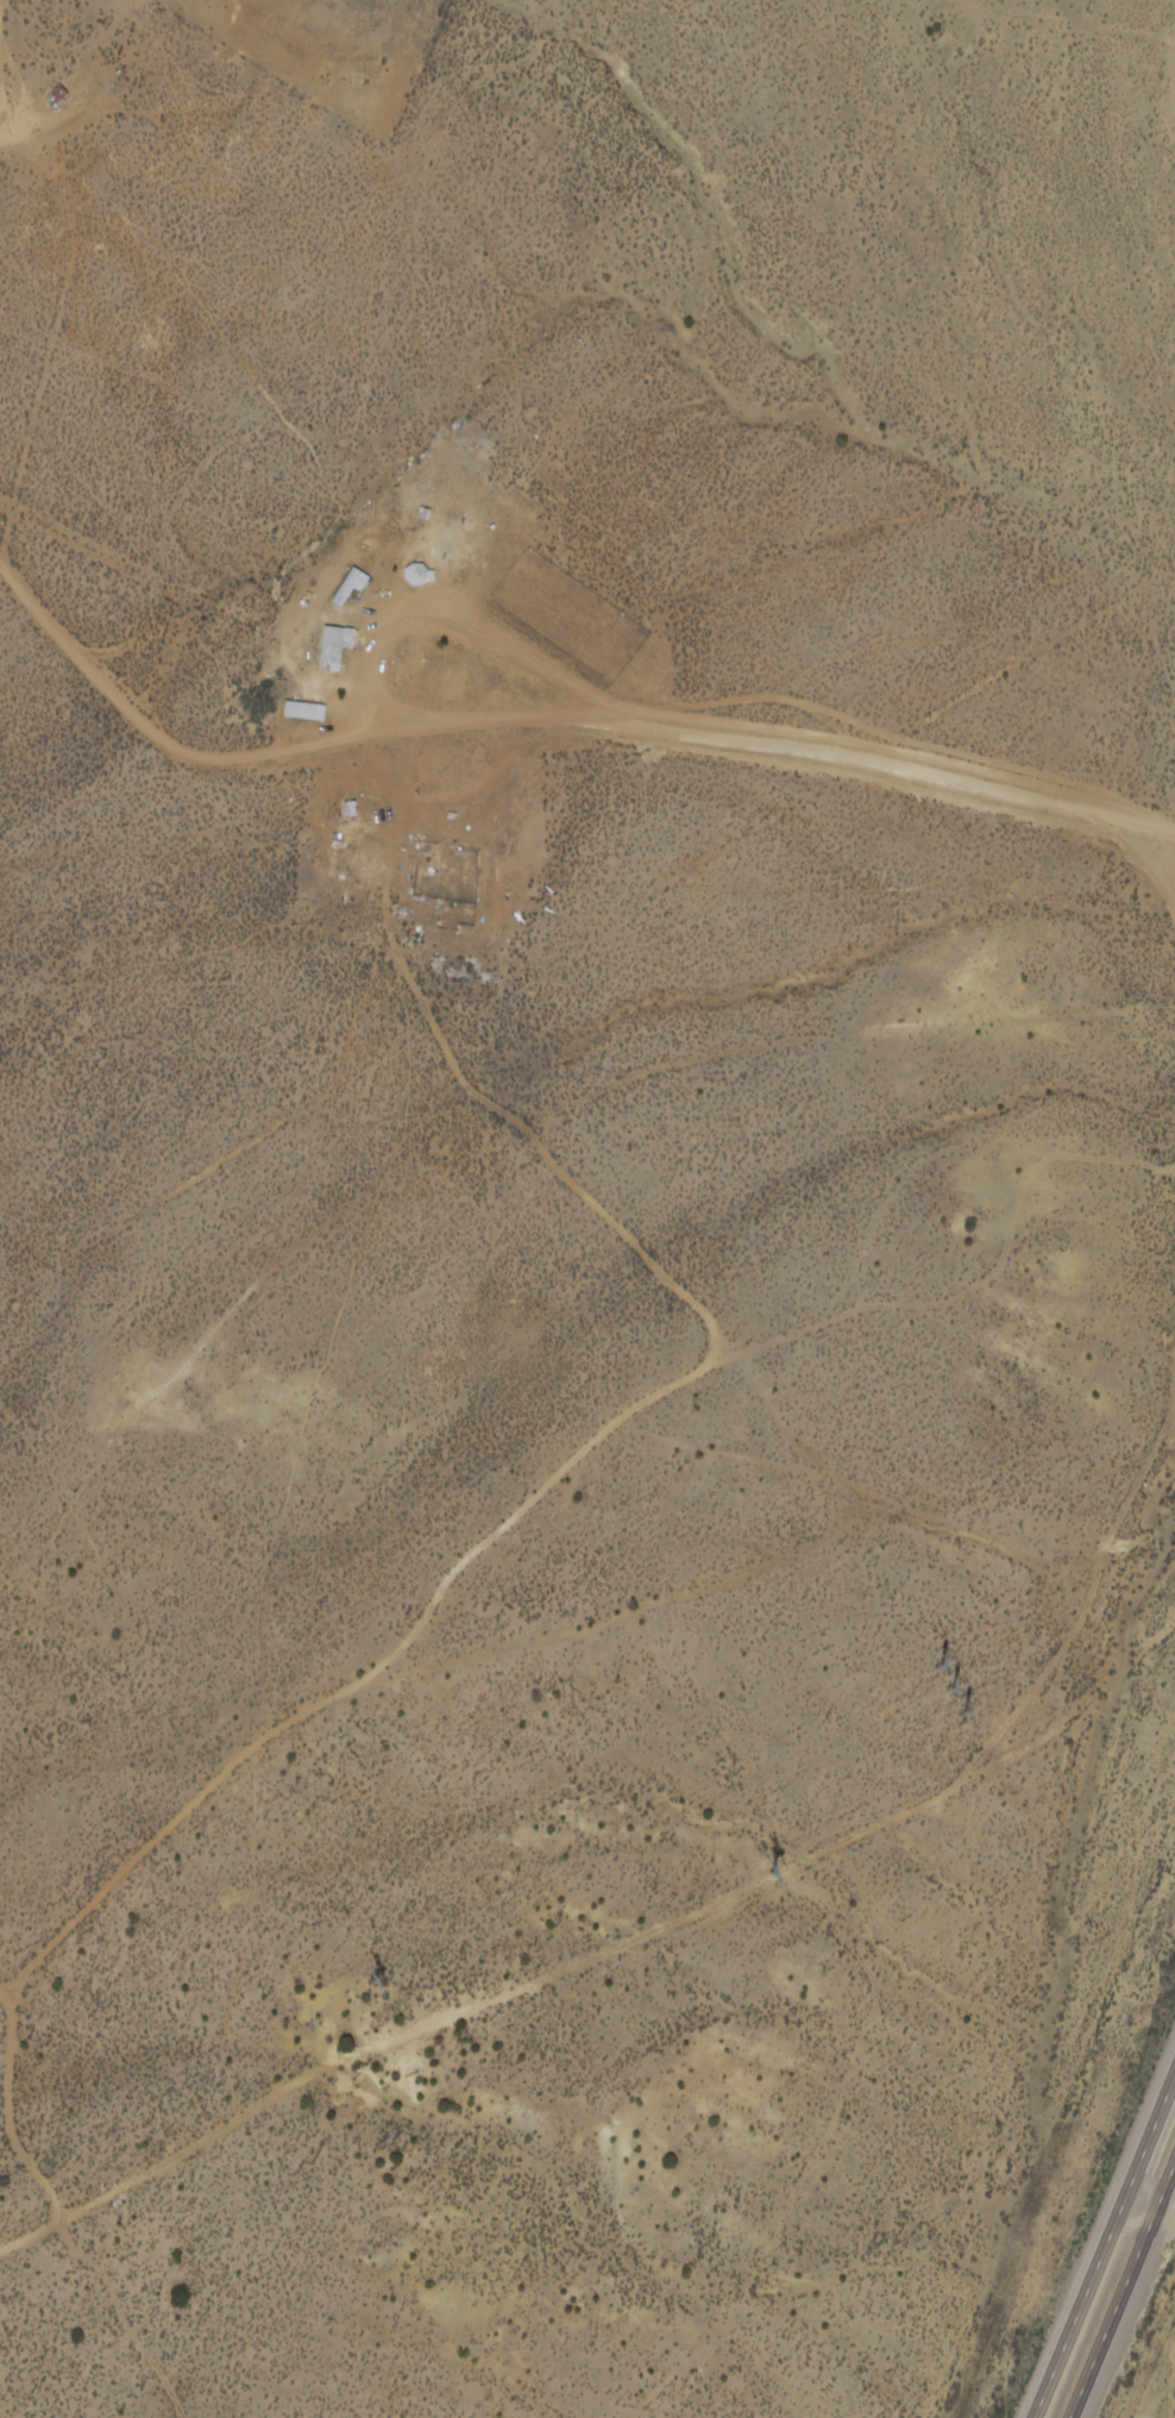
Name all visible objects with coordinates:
road: (1028, 46)
building: (419, 574)
building: (352, 585)
building: (333, 650)
road: (551, 715)
power tower: (962, 1680)
power tower: (772, 1871)
road: (614, 1955)
power tower: (381, 1979)
road: (1146, 2217)
road: (1102, 2248)
road: (1121, 2291)
road: (1161, 2399)

